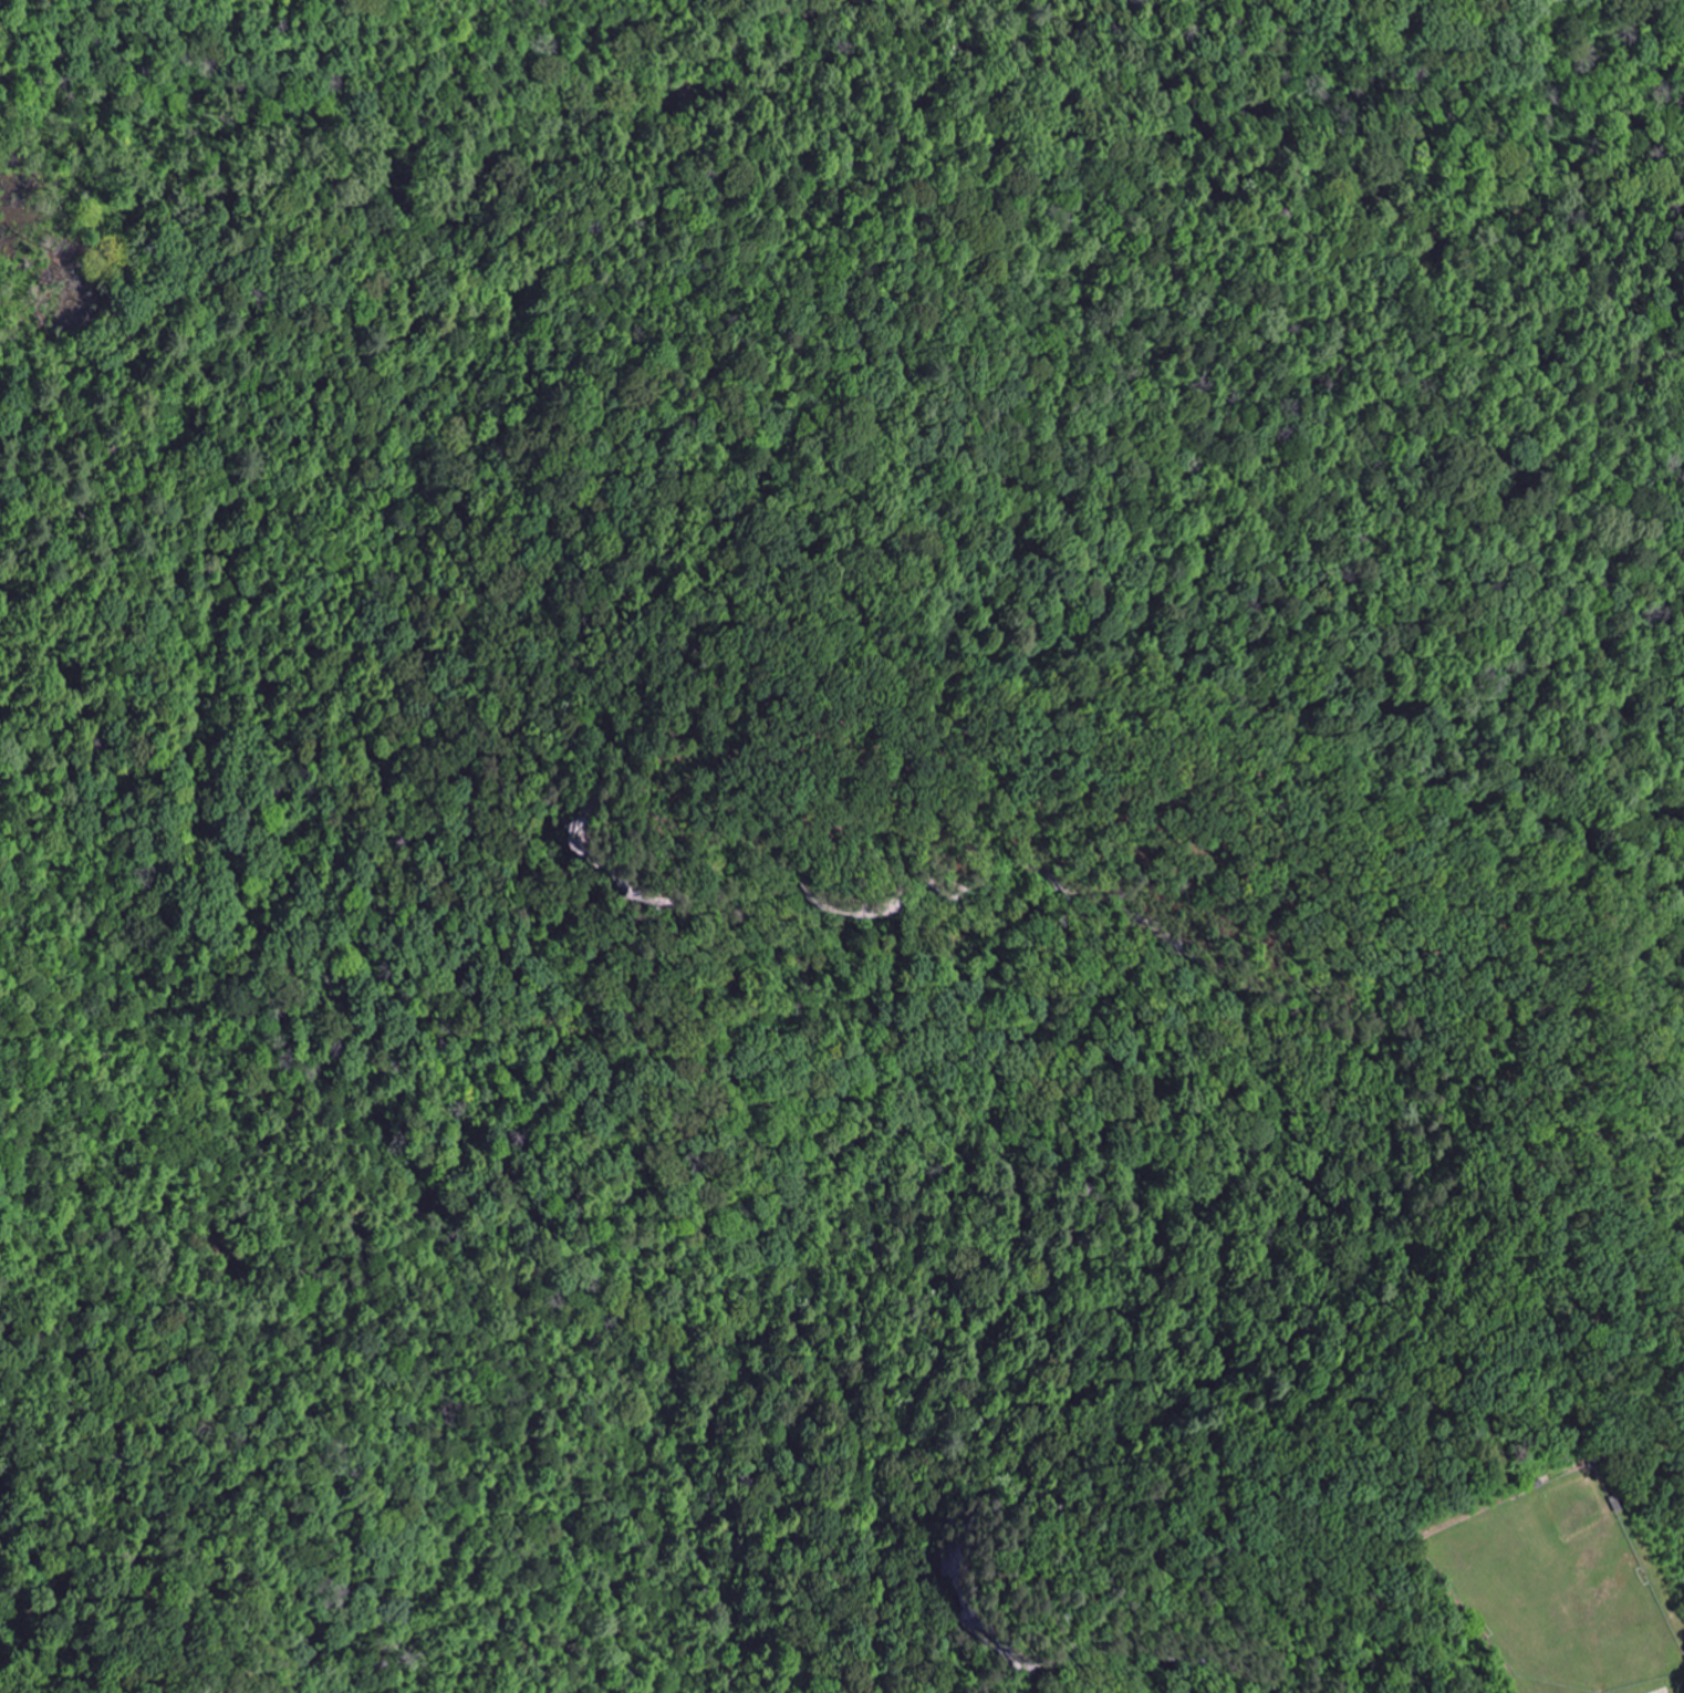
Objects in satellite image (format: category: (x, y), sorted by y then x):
road: (1333, 849)
road: (306, 1373)
road: (1681, 1691)

